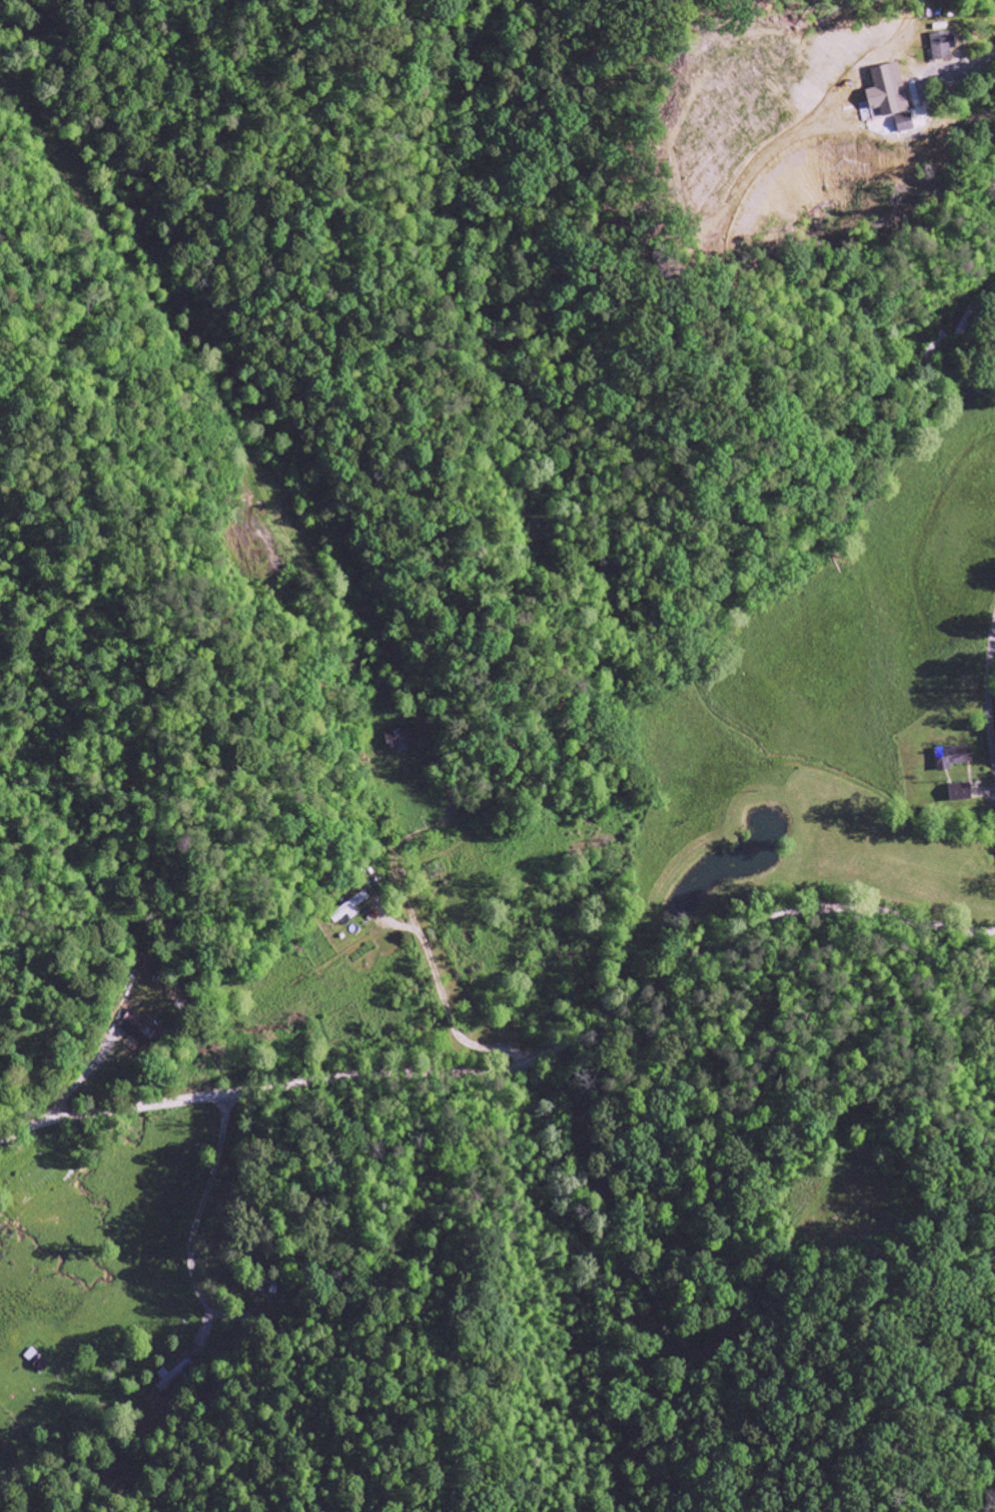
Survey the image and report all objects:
building: (943, 44)
building: (890, 89)
building: (907, 126)
road: (990, 687)
building: (946, 756)
building: (956, 791)
building: (349, 907)
road: (513, 1064)

